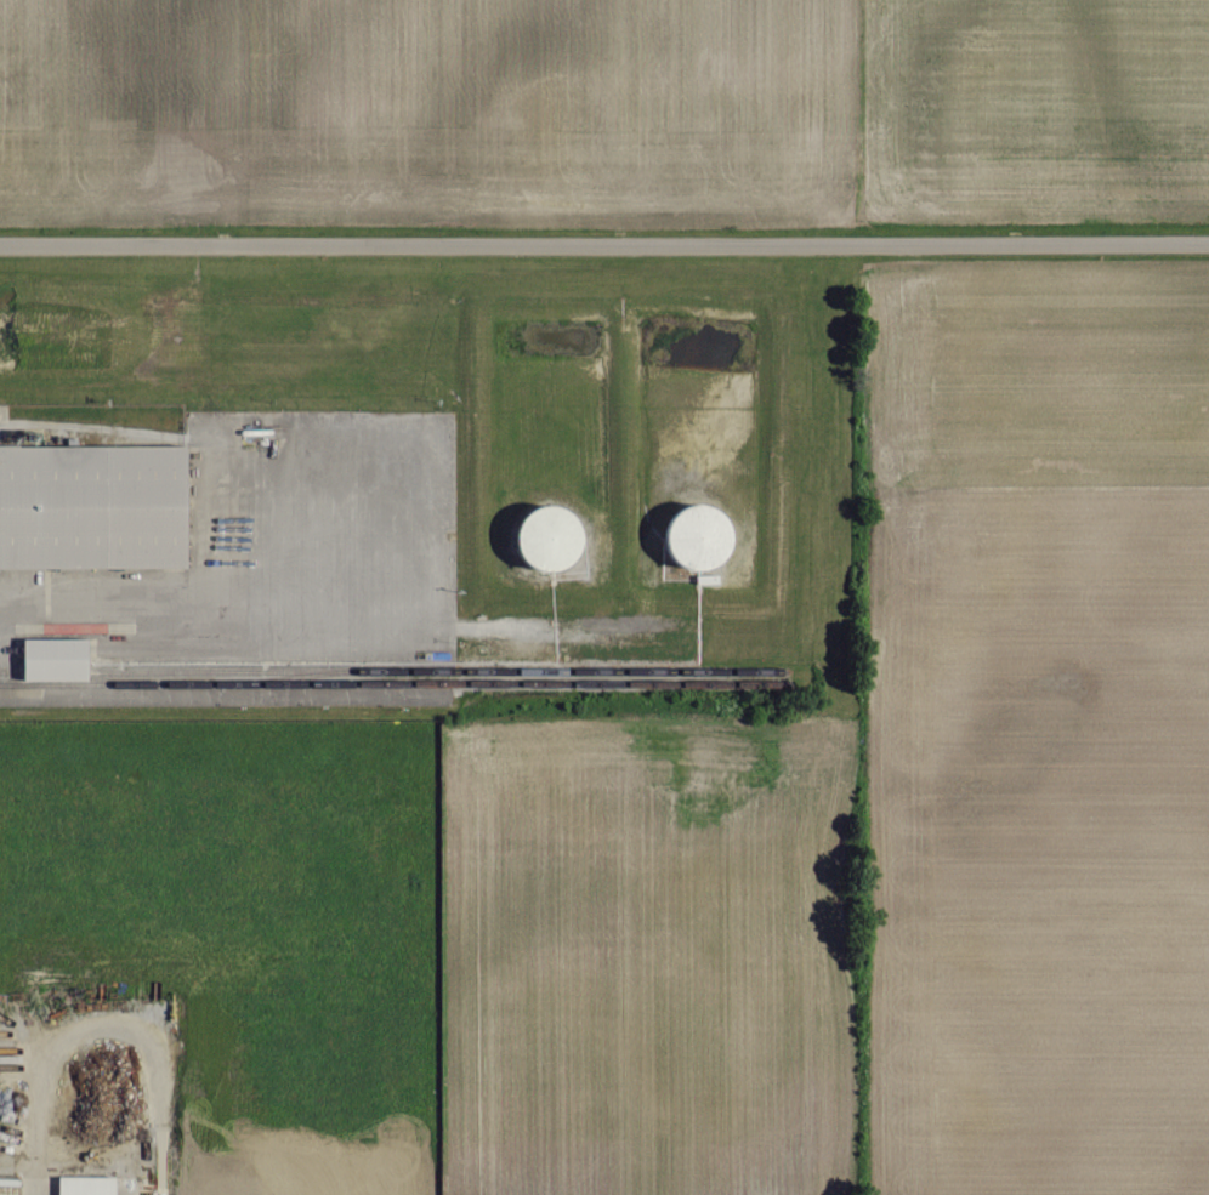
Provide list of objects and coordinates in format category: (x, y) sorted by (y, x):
road: (604, 247)
building: (92, 505)
silo: (546, 536)
building: (560, 537)
building: (706, 540)
road: (204, 607)
building: (52, 656)
railway: (390, 671)
railway: (291, 677)
railway: (390, 683)
building: (91, 1185)

